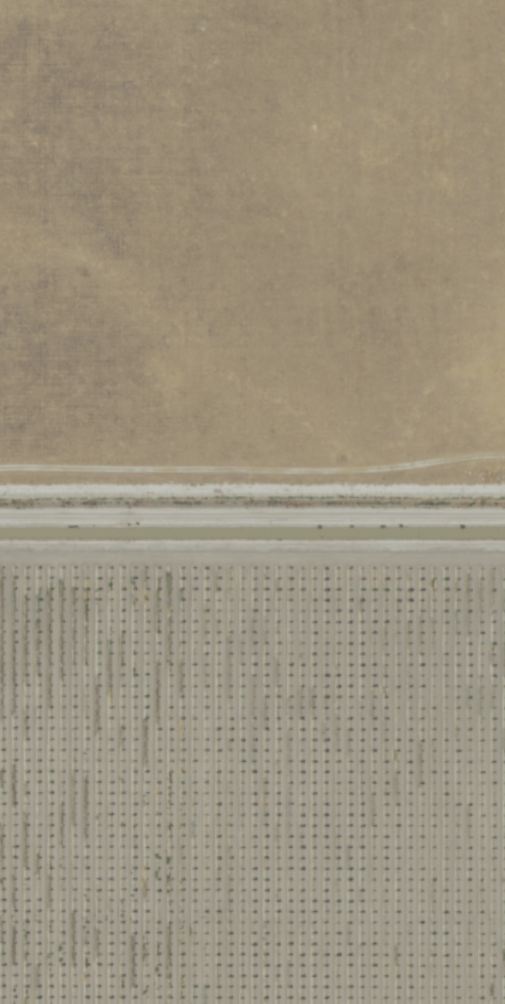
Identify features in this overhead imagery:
crop: (252, 502)
road: (252, 518)
road: (252, 563)

